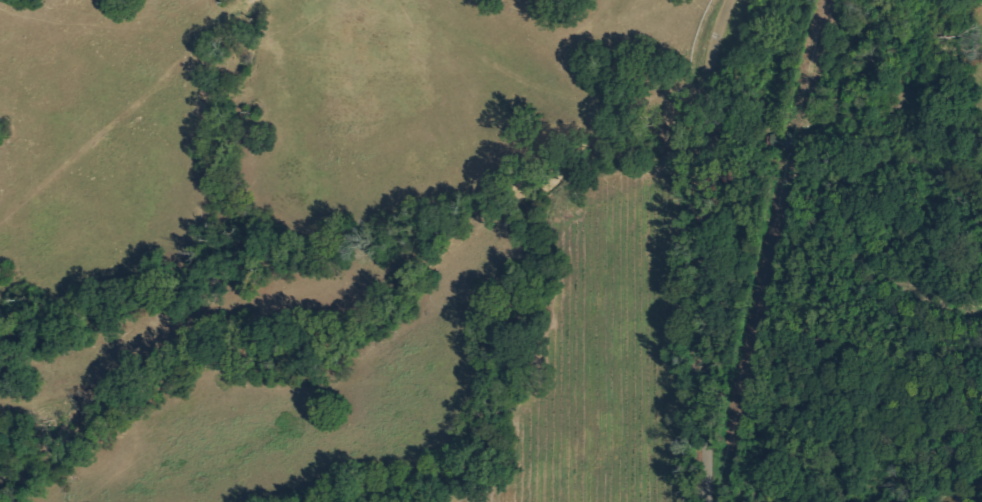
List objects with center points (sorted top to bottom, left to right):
road: (699, 249)

